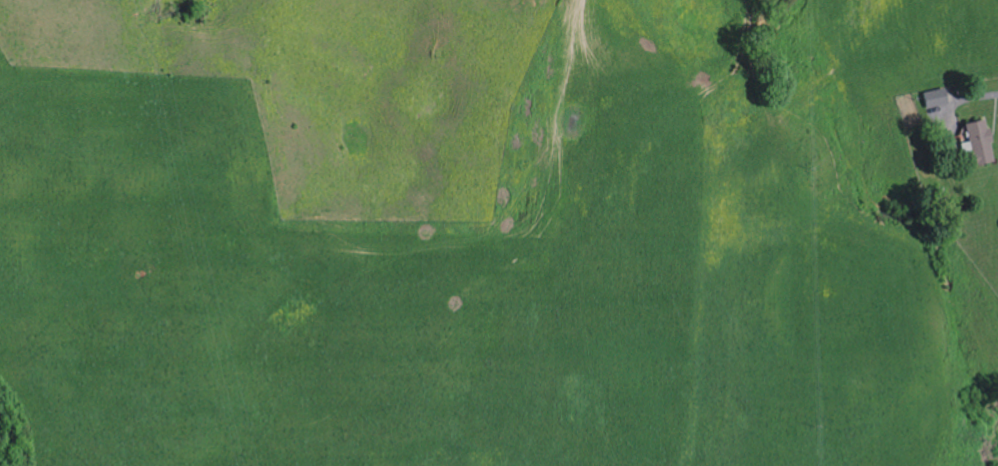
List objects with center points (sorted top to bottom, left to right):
building: (931, 98)
building: (972, 144)

